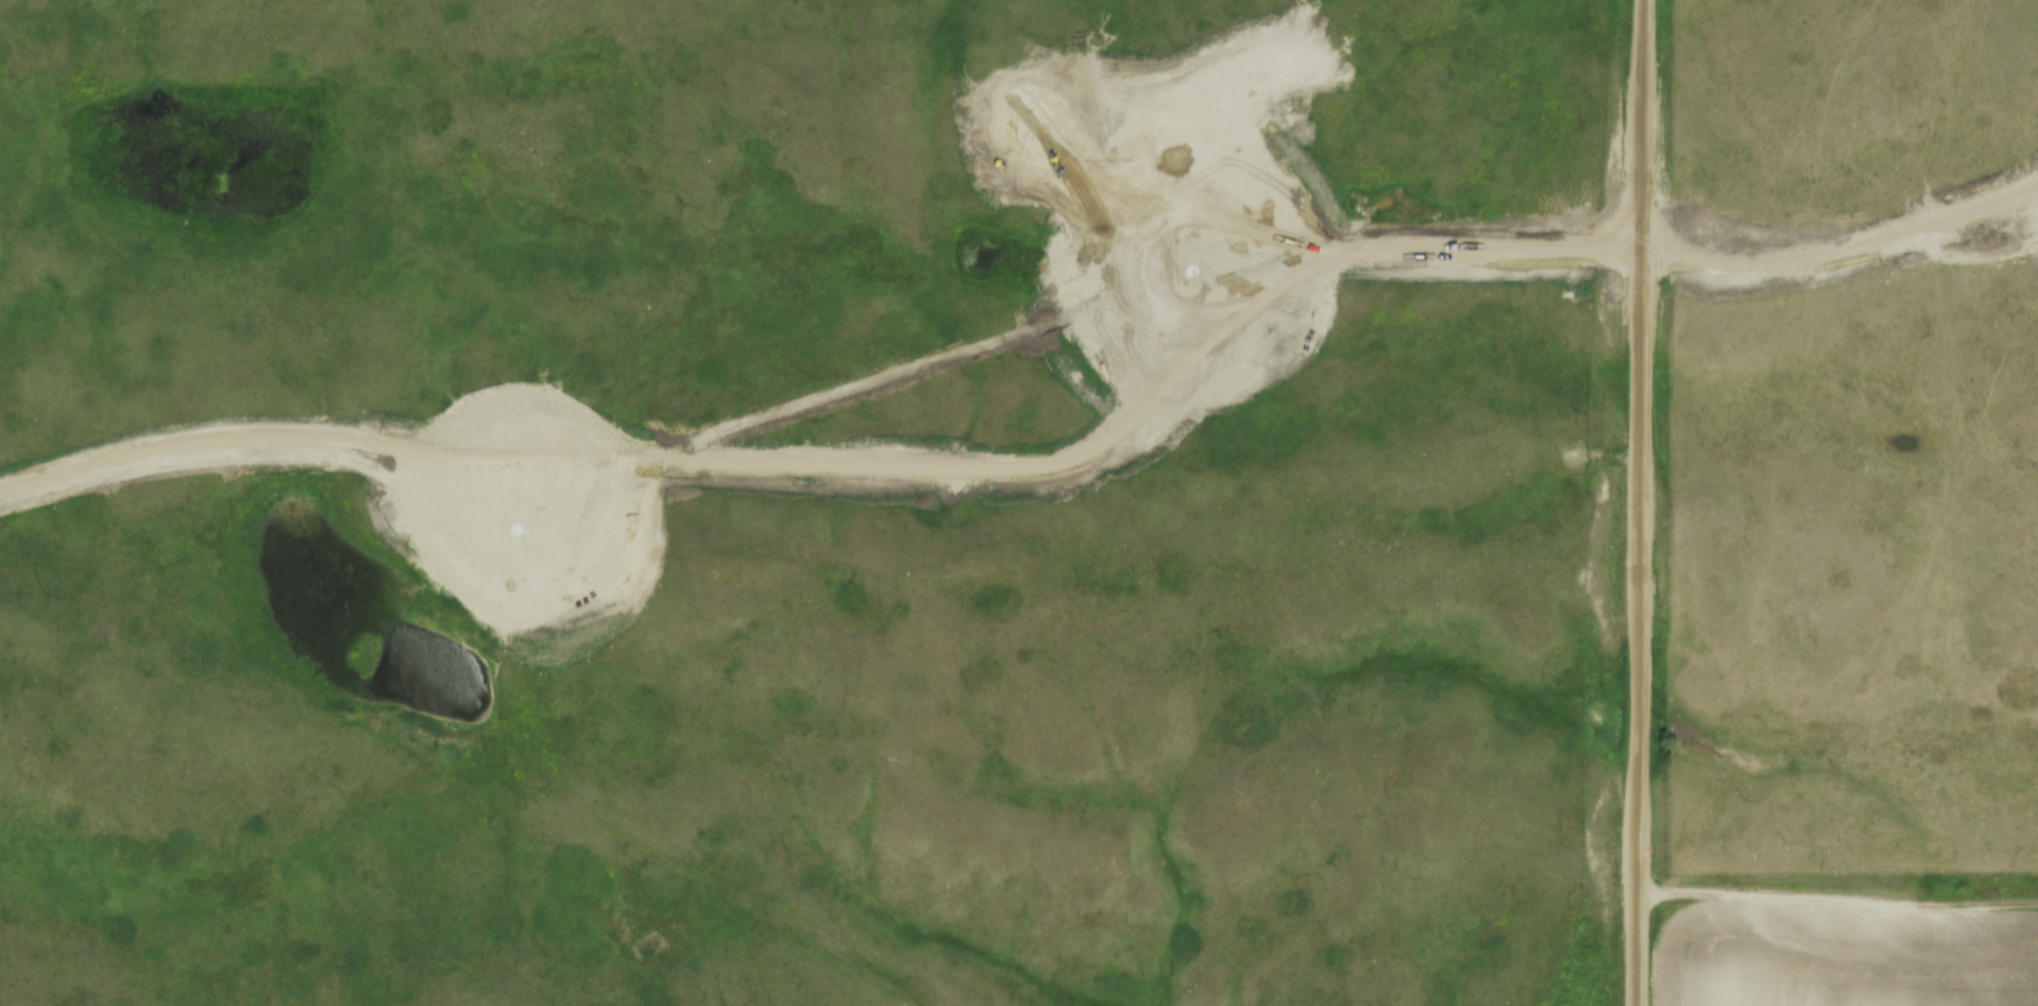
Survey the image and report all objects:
wind turbine: (1194, 265)
road: (1643, 502)
wind turbine: (511, 524)
road: (1839, 893)

